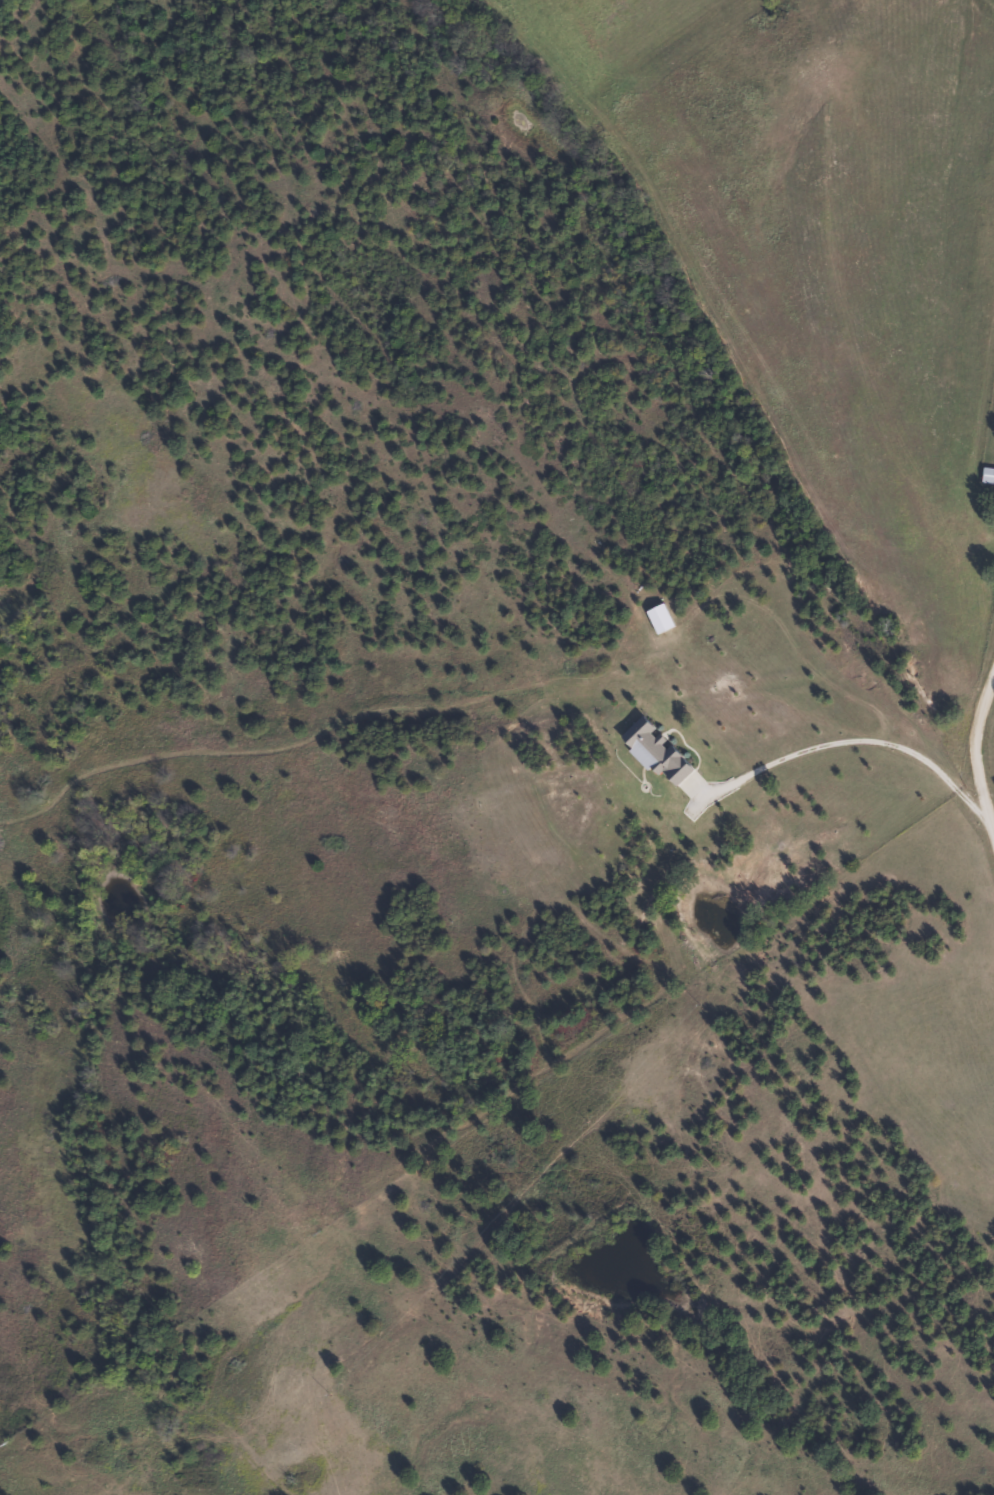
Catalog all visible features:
park: (987, 442)
building: (987, 475)
road: (976, 781)

